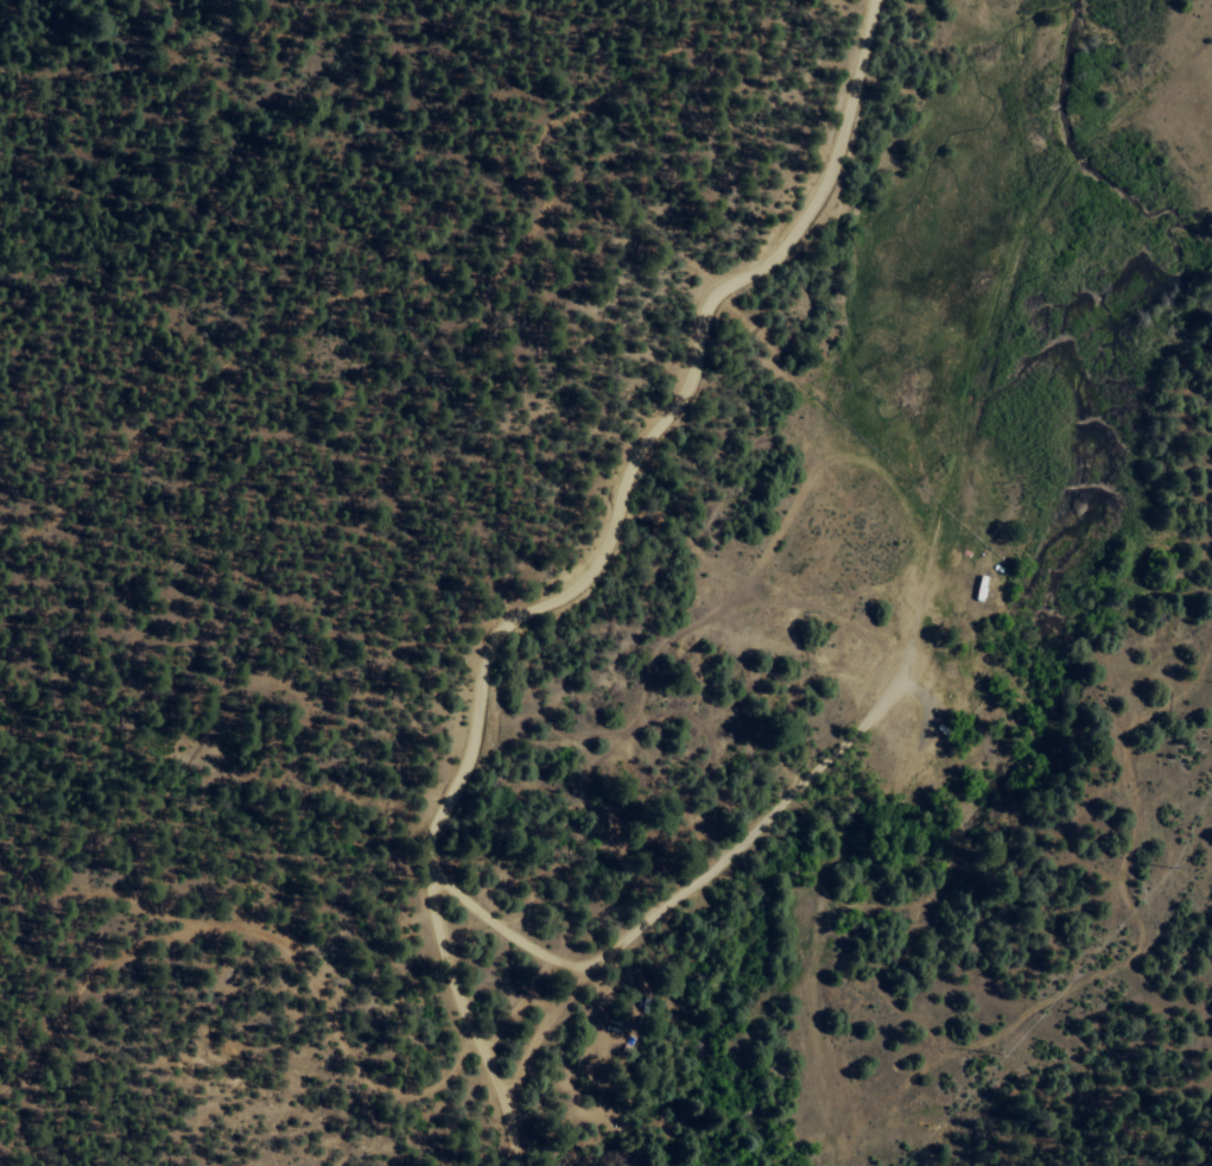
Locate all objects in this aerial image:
road: (584, 577)

